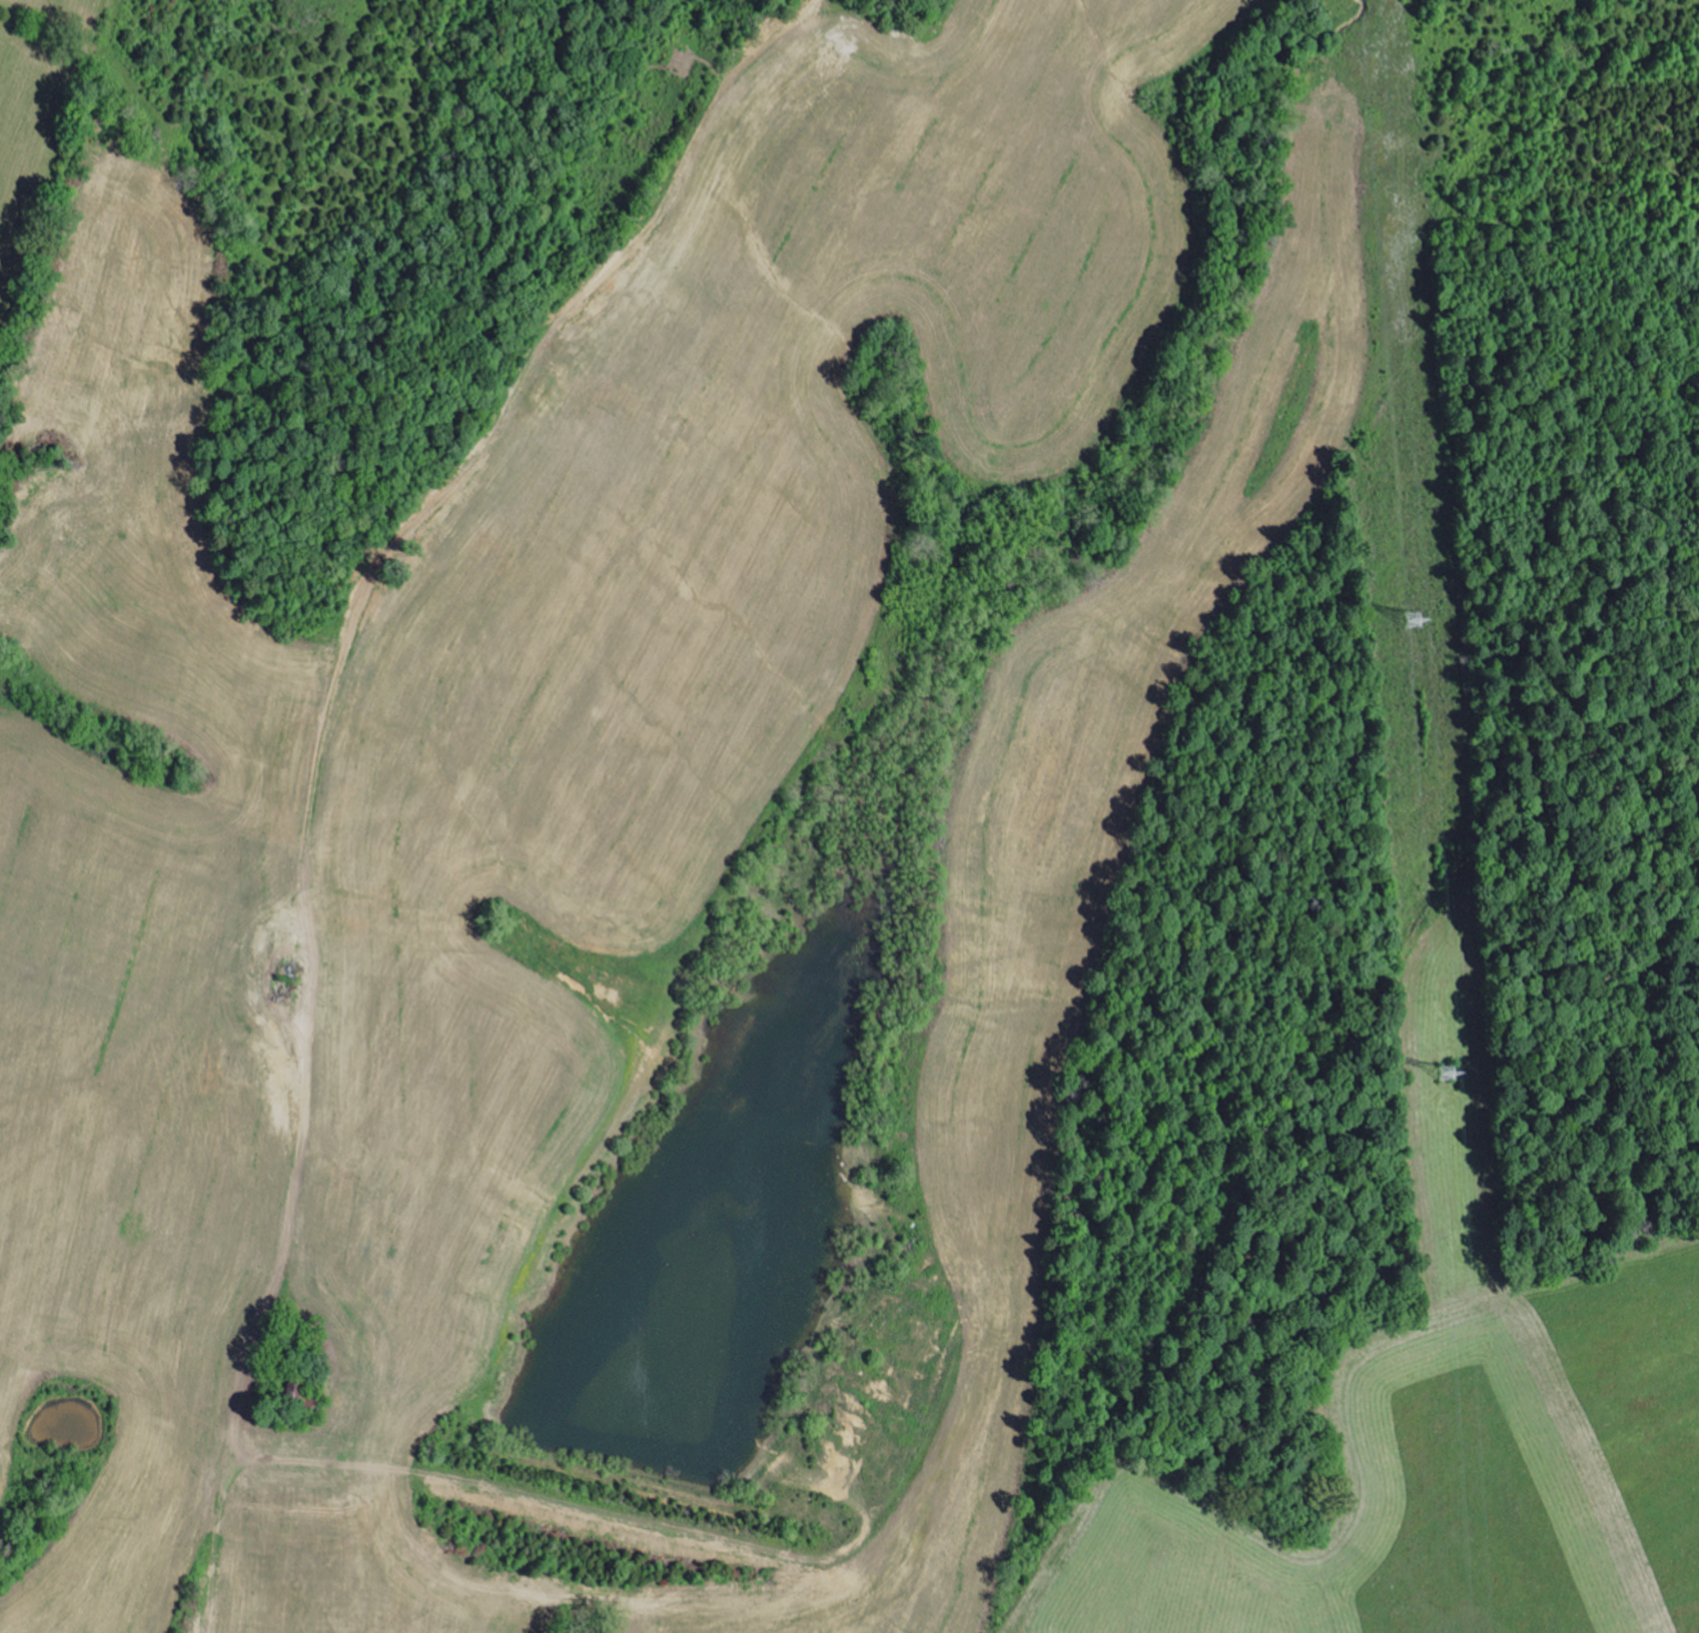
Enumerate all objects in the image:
road: (325, 734)

